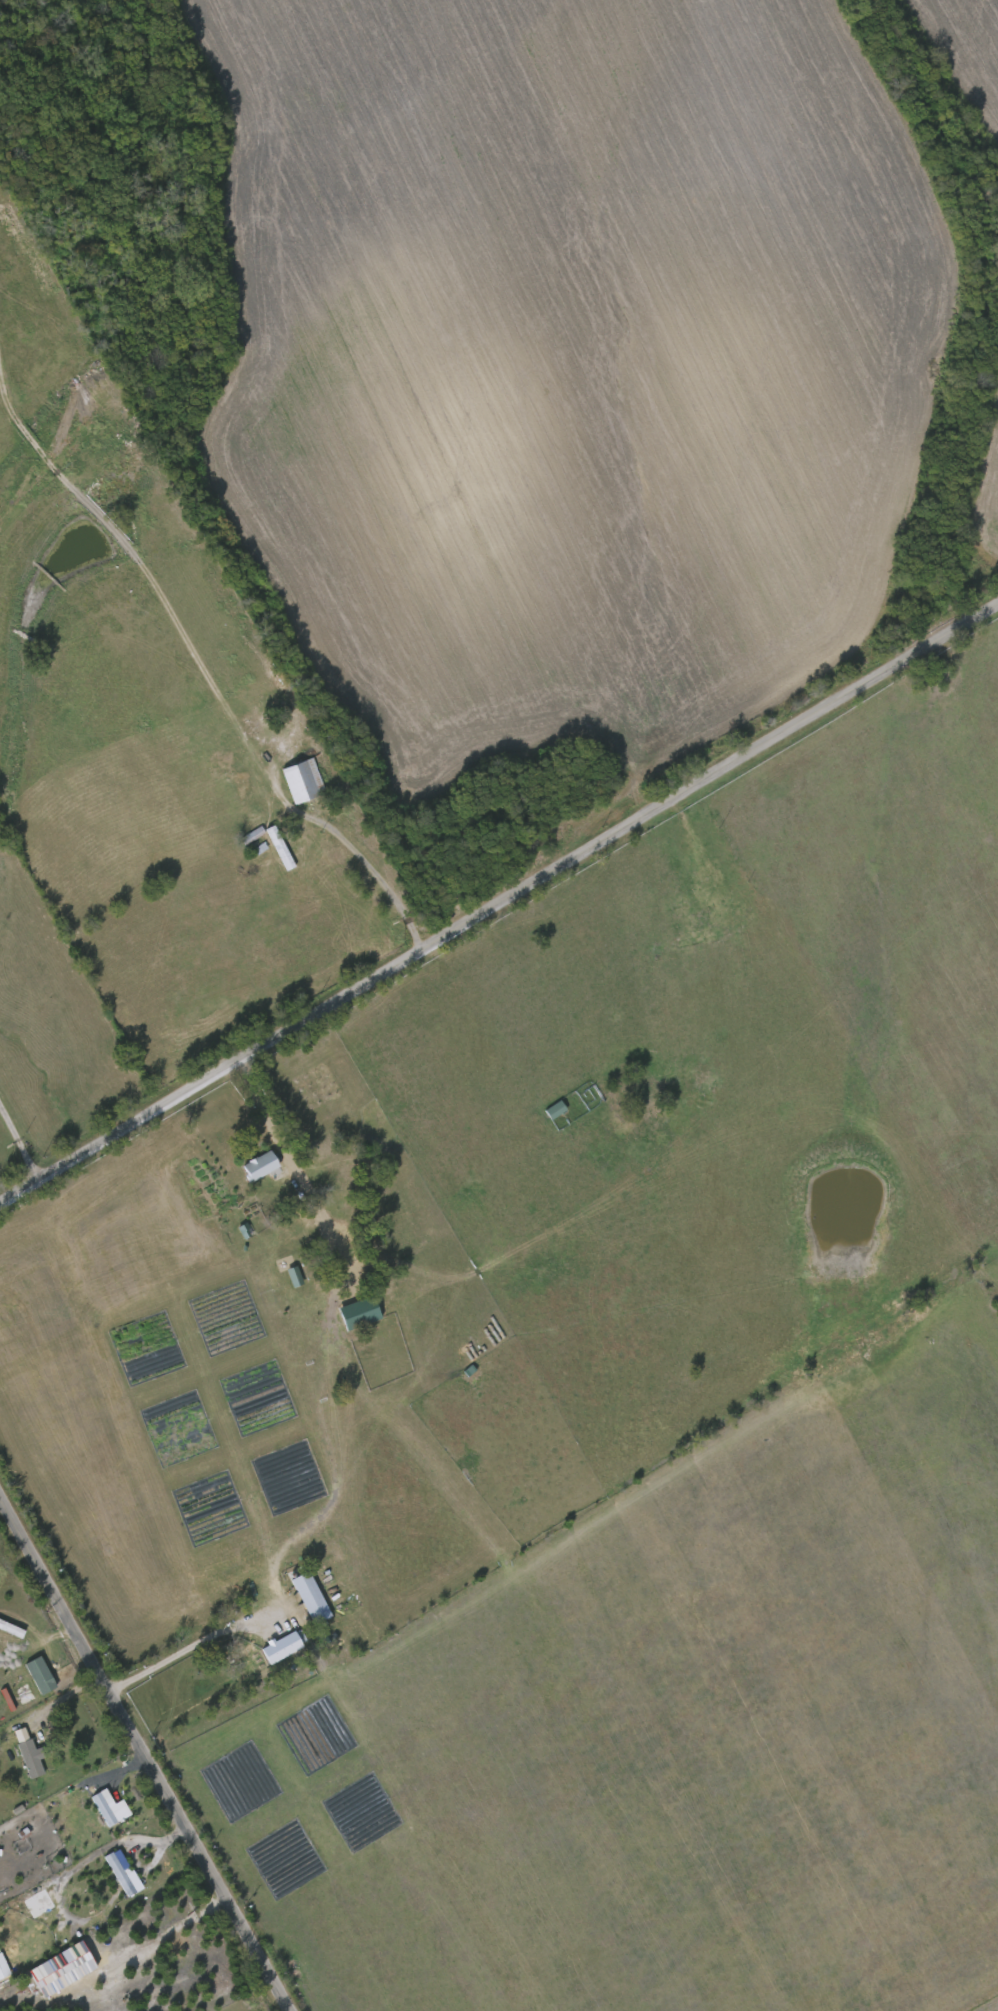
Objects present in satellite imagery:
building: (303, 780)
road: (371, 872)
building: (705, 897)
road: (499, 907)
building: (640, 1094)
building: (555, 1110)
road: (19, 1148)
road: (289, 1148)
building: (259, 1164)
building: (347, 1188)
building: (347, 1267)
building: (294, 1277)
building: (358, 1314)
building: (310, 1596)
building: (268, 1636)
road: (192, 1641)
building: (281, 1648)
building: (39, 1676)
road: (56, 1701)
road: (145, 1755)
building: (30, 1757)
road: (124, 1768)
building: (109, 1808)
road: (130, 1851)
building: (123, 1874)
road: (179, 1927)
building: (3, 1968)
building: (61, 1970)

